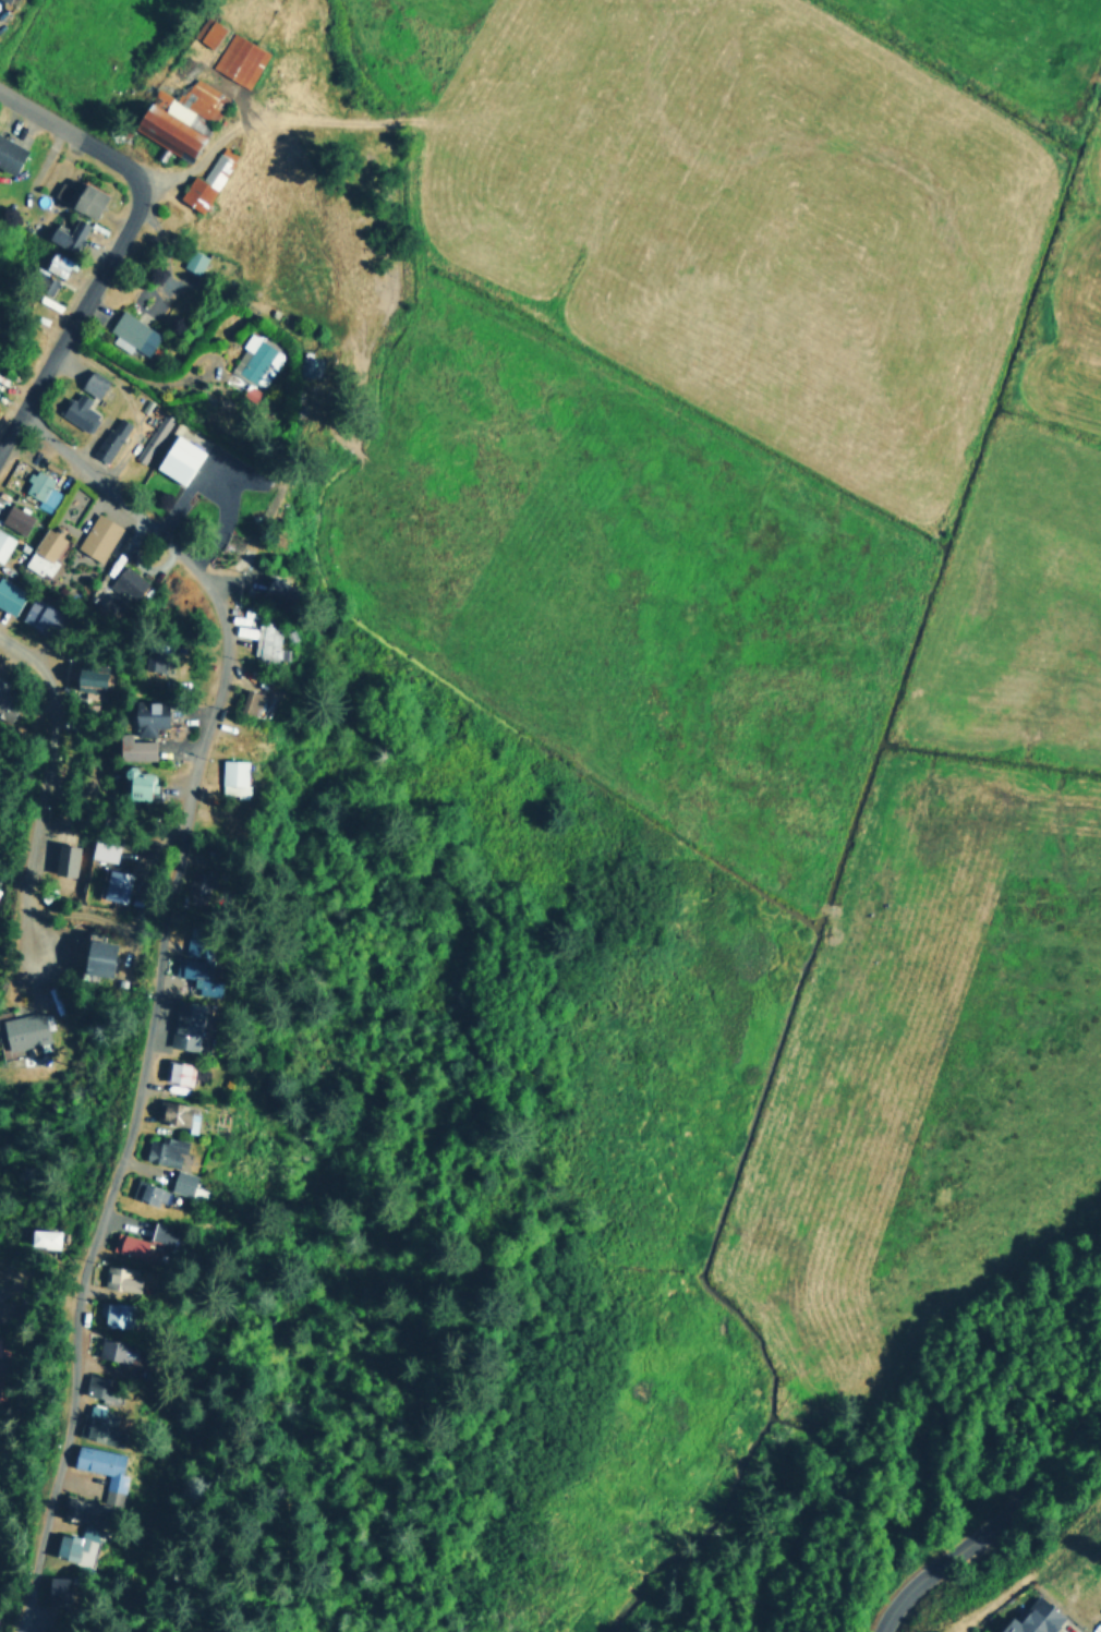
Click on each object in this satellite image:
building: (1, 0)
building: (206, 31)
building: (238, 59)
building: (177, 114)
road: (73, 132)
building: (8, 153)
building: (204, 180)
building: (84, 197)
building: (66, 233)
building: (192, 259)
building: (55, 262)
road: (75, 319)
building: (130, 331)
building: (254, 360)
building: (90, 382)
building: (76, 411)
building: (159, 425)
building: (109, 437)
building: (176, 457)
building: (38, 488)
building: (13, 517)
building: (95, 535)
building: (3, 542)
building: (41, 551)
building: (126, 581)
building: (8, 594)
building: (38, 614)
building: (261, 638)
crop: (748, 644)
building: (85, 677)
building: (7, 700)
building: (246, 700)
building: (143, 714)
building: (129, 745)
building: (229, 775)
building: (132, 783)
road: (40, 790)
building: (99, 849)
building: (63, 857)
building: (111, 883)
building: (92, 955)
building: (192, 972)
road: (147, 983)
building: (178, 1027)
building: (22, 1029)
building: (171, 1071)
building: (170, 1113)
building: (157, 1149)
building: (174, 1181)
building: (140, 1192)
building: (37, 1236)
building: (136, 1241)
building: (112, 1277)
building: (107, 1313)
building: (108, 1350)
building: (93, 1386)
building: (86, 1423)
building: (96, 1470)
building: (66, 1508)
road: (992, 1521)
building: (65, 1543)
building: (49, 1587)
road: (10, 1597)
road: (15, 1616)
building: (1030, 1618)

